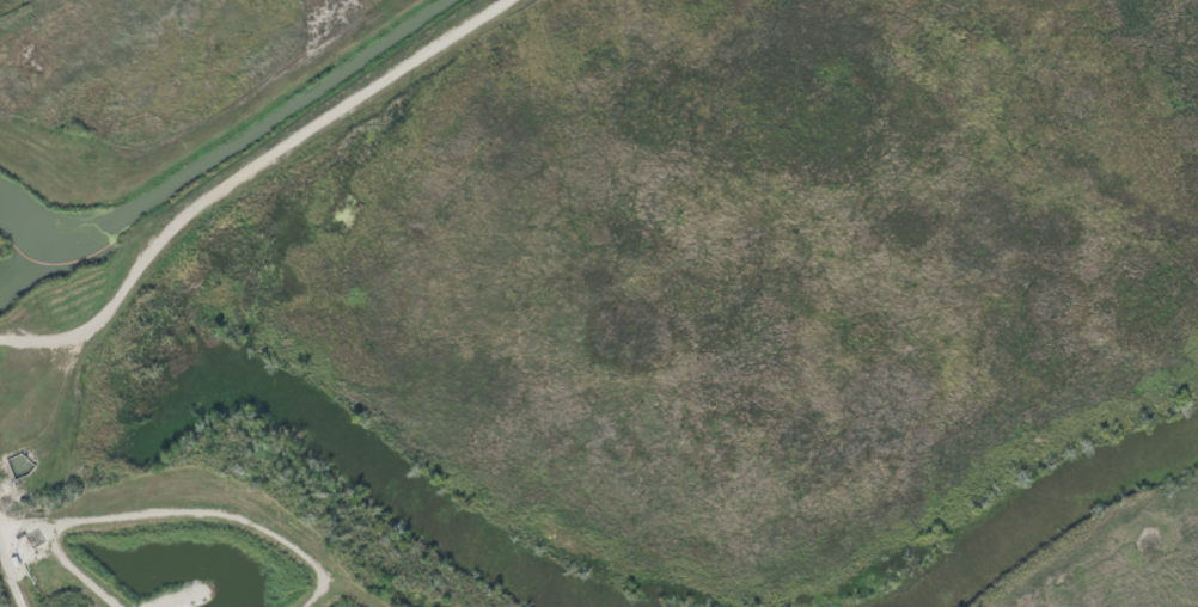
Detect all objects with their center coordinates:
road: (239, 174)
road: (204, 511)
road: (11, 572)

